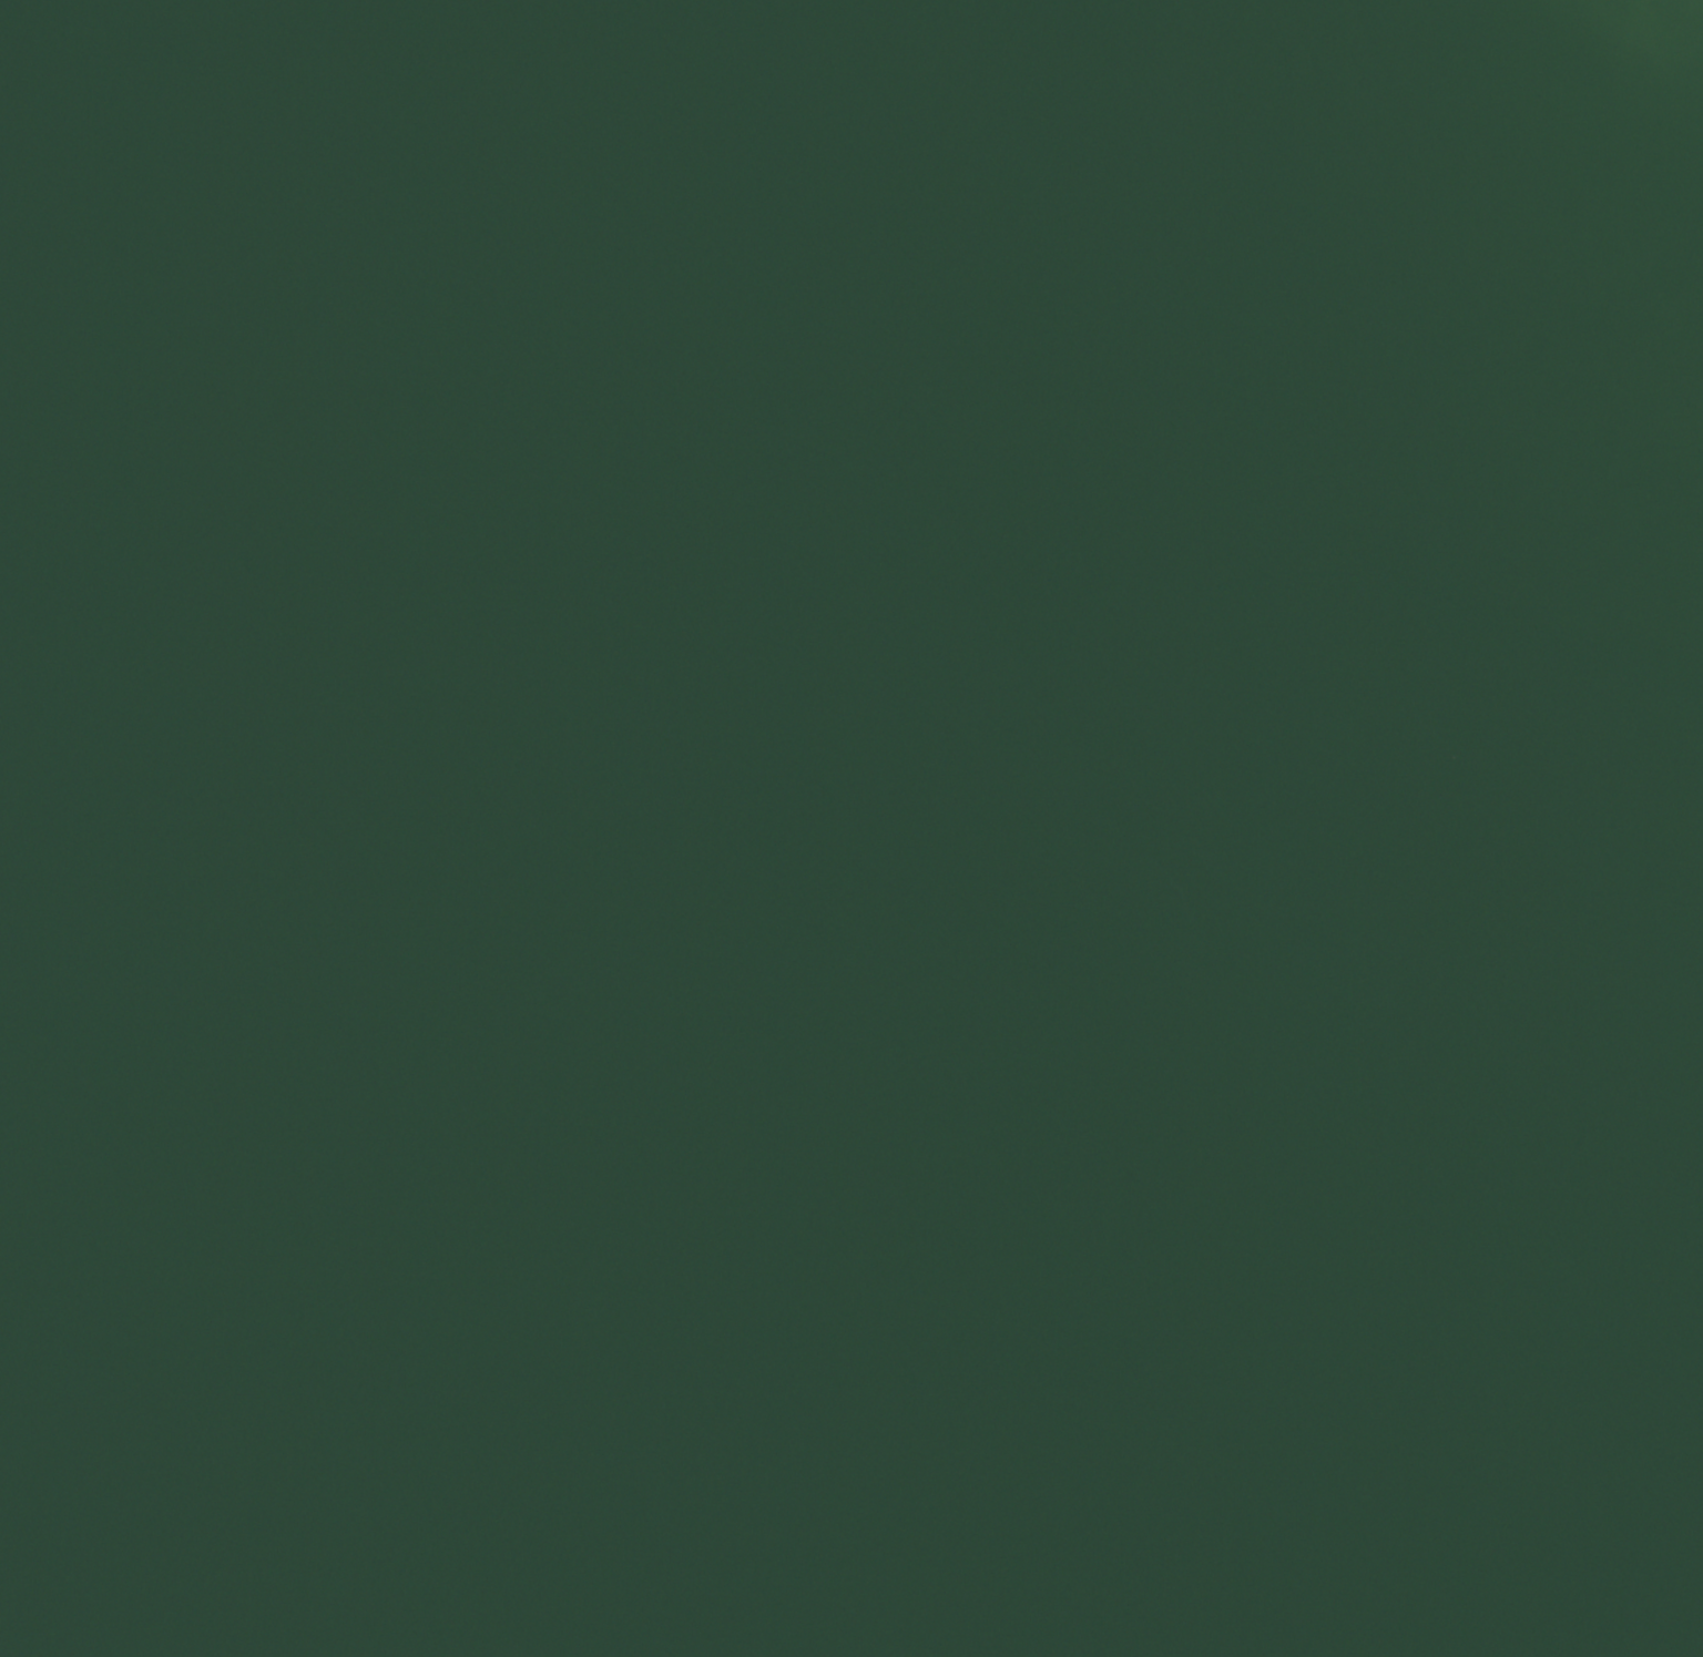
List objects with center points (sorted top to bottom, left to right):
river: (343, 899)

